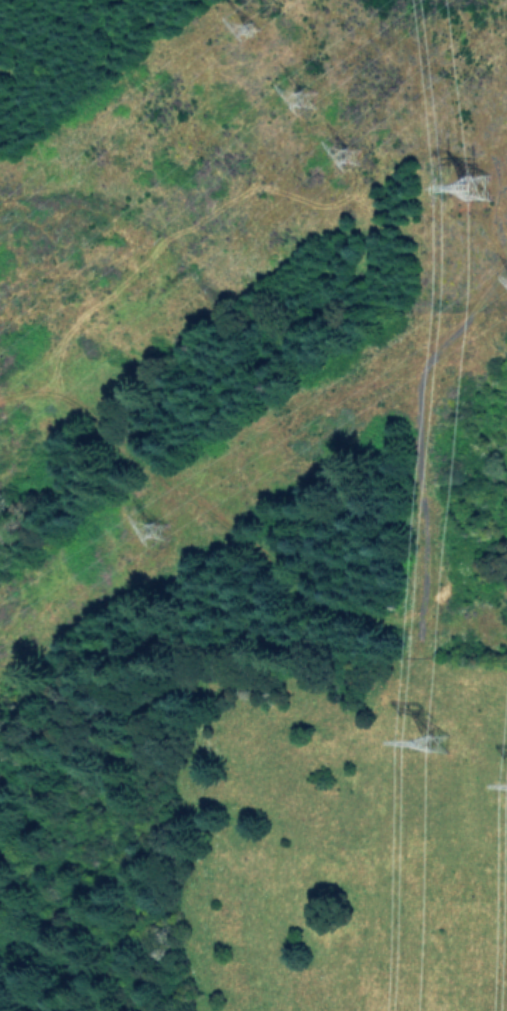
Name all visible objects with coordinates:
power tower: (259, 43)
power tower: (320, 114)
power tower: (366, 183)
power tower: (482, 194)
power tower: (169, 550)
power tower: (439, 745)

